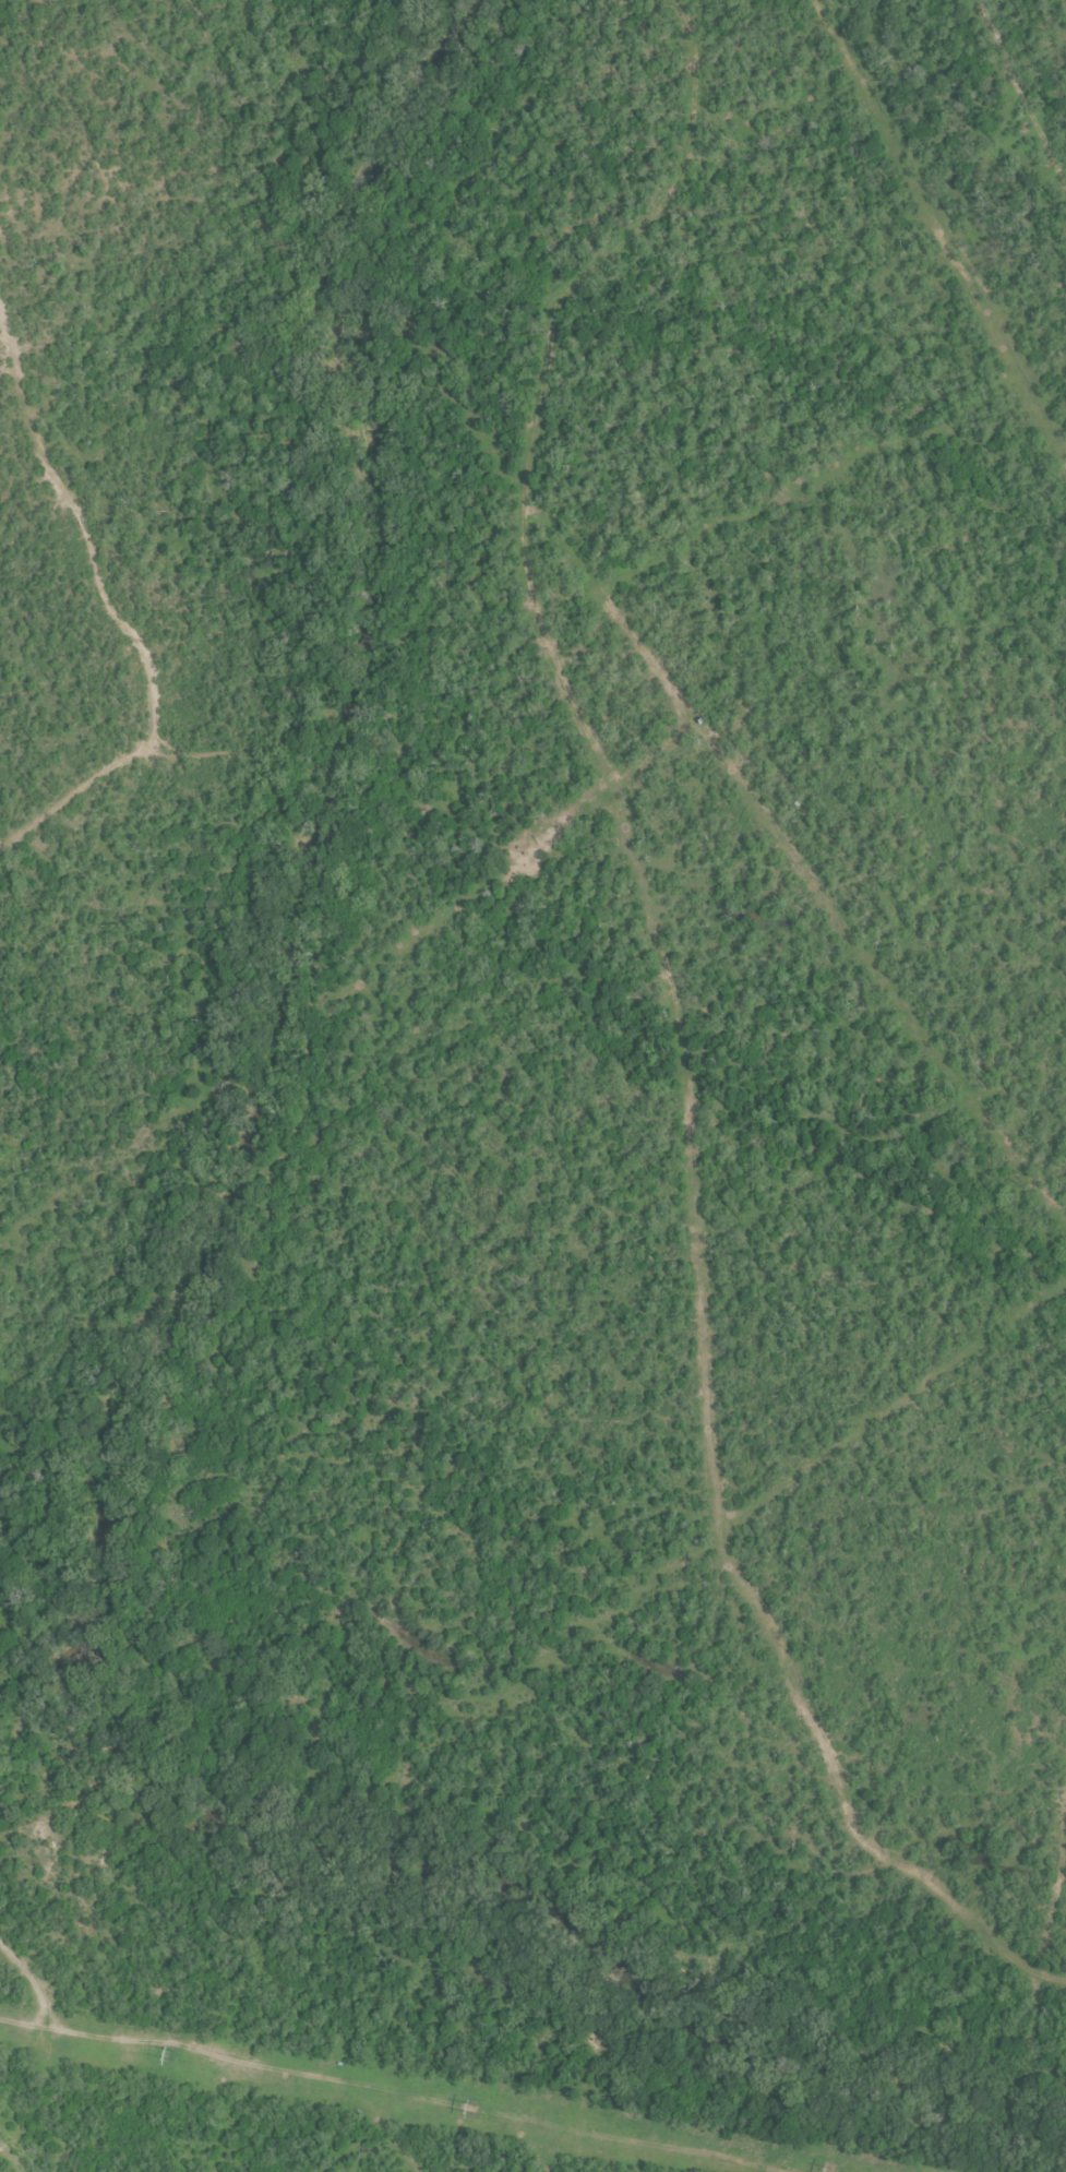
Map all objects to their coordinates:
power tower: (171, 2056)
power tower: (472, 2111)

